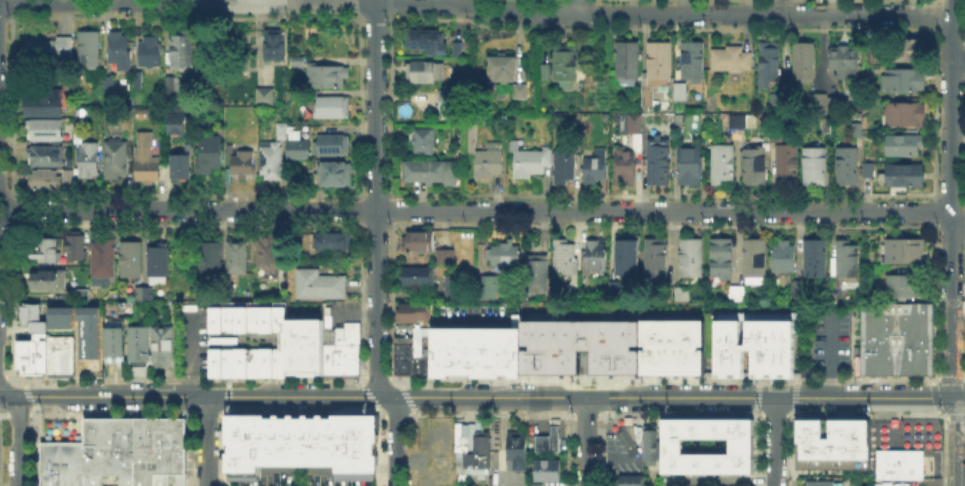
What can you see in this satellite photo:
road: (178, 0)
road: (474, 5)
road: (576, 7)
road: (783, 7)
building: (428, 41)
building: (276, 46)
building: (121, 47)
building: (89, 50)
building: (459, 50)
building: (51, 51)
building: (907, 51)
building: (183, 52)
building: (152, 53)
road: (958, 59)
building: (628, 60)
building: (660, 61)
building: (732, 61)
building: (694, 63)
building: (804, 63)
building: (848, 63)
building: (566, 64)
building: (770, 65)
building: (504, 70)
building: (427, 72)
building: (545, 73)
building: (322, 75)
building: (100, 79)
building: (904, 82)
building: (171, 85)
building: (522, 92)
building: (681, 93)
building: (266, 100)
building: (453, 100)
building: (818, 103)
building: (777, 104)
building: (834, 104)
building: (43, 107)
building: (333, 107)
building: (905, 116)
building: (737, 121)
building: (178, 122)
building: (631, 125)
building: (46, 130)
building: (858, 131)
building: (777, 136)
building: (80, 137)
building: (424, 142)
building: (294, 143)
building: (333, 147)
building: (904, 147)
building: (47, 156)
building: (210, 156)
building: (90, 160)
building: (117, 160)
building: (148, 160)
building: (530, 161)
building: (272, 162)
building: (724, 164)
building: (787, 164)
building: (244, 165)
building: (490, 165)
building: (659, 165)
building: (597, 167)
building: (691, 167)
building: (756, 167)
building: (816, 167)
building: (848, 167)
building: (182, 168)
building: (625, 168)
building: (565, 169)
building: (869, 172)
building: (432, 174)
building: (335, 175)
building: (70, 177)
building: (907, 177)
building: (46, 181)
road: (951, 199)
road: (483, 211)
building: (327, 241)
building: (419, 243)
building: (73, 244)
road: (376, 244)
building: (41, 248)
building: (266, 251)
building: (902, 252)
building: (235, 255)
building: (510, 255)
building: (208, 256)
building: (596, 256)
building: (784, 256)
building: (629, 257)
building: (129, 258)
building: (566, 258)
building: (692, 258)
building: (156, 259)
building: (723, 259)
building: (755, 259)
building: (100, 260)
building: (445, 260)
building: (816, 260)
building: (848, 261)
building: (657, 263)
building: (537, 273)
building: (421, 278)
building: (46, 279)
building: (317, 283)
building: (906, 287)
building: (491, 288)
building: (798, 290)
building: (457, 291)
building: (617, 291)
building: (142, 292)
building: (79, 293)
building: (682, 294)
building: (736, 295)
building: (126, 308)
building: (28, 311)
building: (413, 311)
building: (325, 315)
road: (471, 321)
building: (895, 337)
building: (33, 338)
parking lot: (193, 338)
building: (246, 341)
building: (88, 342)
building: (753, 342)
building: (113, 343)
building: (137, 345)
building: (161, 345)
building: (303, 346)
building: (579, 346)
building: (670, 346)
building: (403, 350)
building: (341, 352)
building: (474, 352)
road: (498, 352)
building: (59, 355)
road: (829, 355)
building: (420, 357)
building: (30, 360)
road: (498, 387)
road: (4, 388)
road: (4, 396)
road: (481, 397)
traffic signals: (954, 398)
road: (959, 398)
road: (539, 417)
road: (552, 431)
road: (571, 431)
road: (18, 439)
building: (546, 440)
building: (624, 440)
road: (207, 441)
building: (299, 441)
road: (586, 441)
road: (775, 441)
road: (956, 441)
building: (647, 443)
building: (831, 443)
building: (739, 444)
building: (471, 447)
building: (514, 448)
building: (133, 451)
building: (61, 463)
building: (897, 463)
building: (545, 468)
building: (631, 479)
road: (723, 480)
building: (484, 483)
building: (532, 483)
building: (821, 484)

